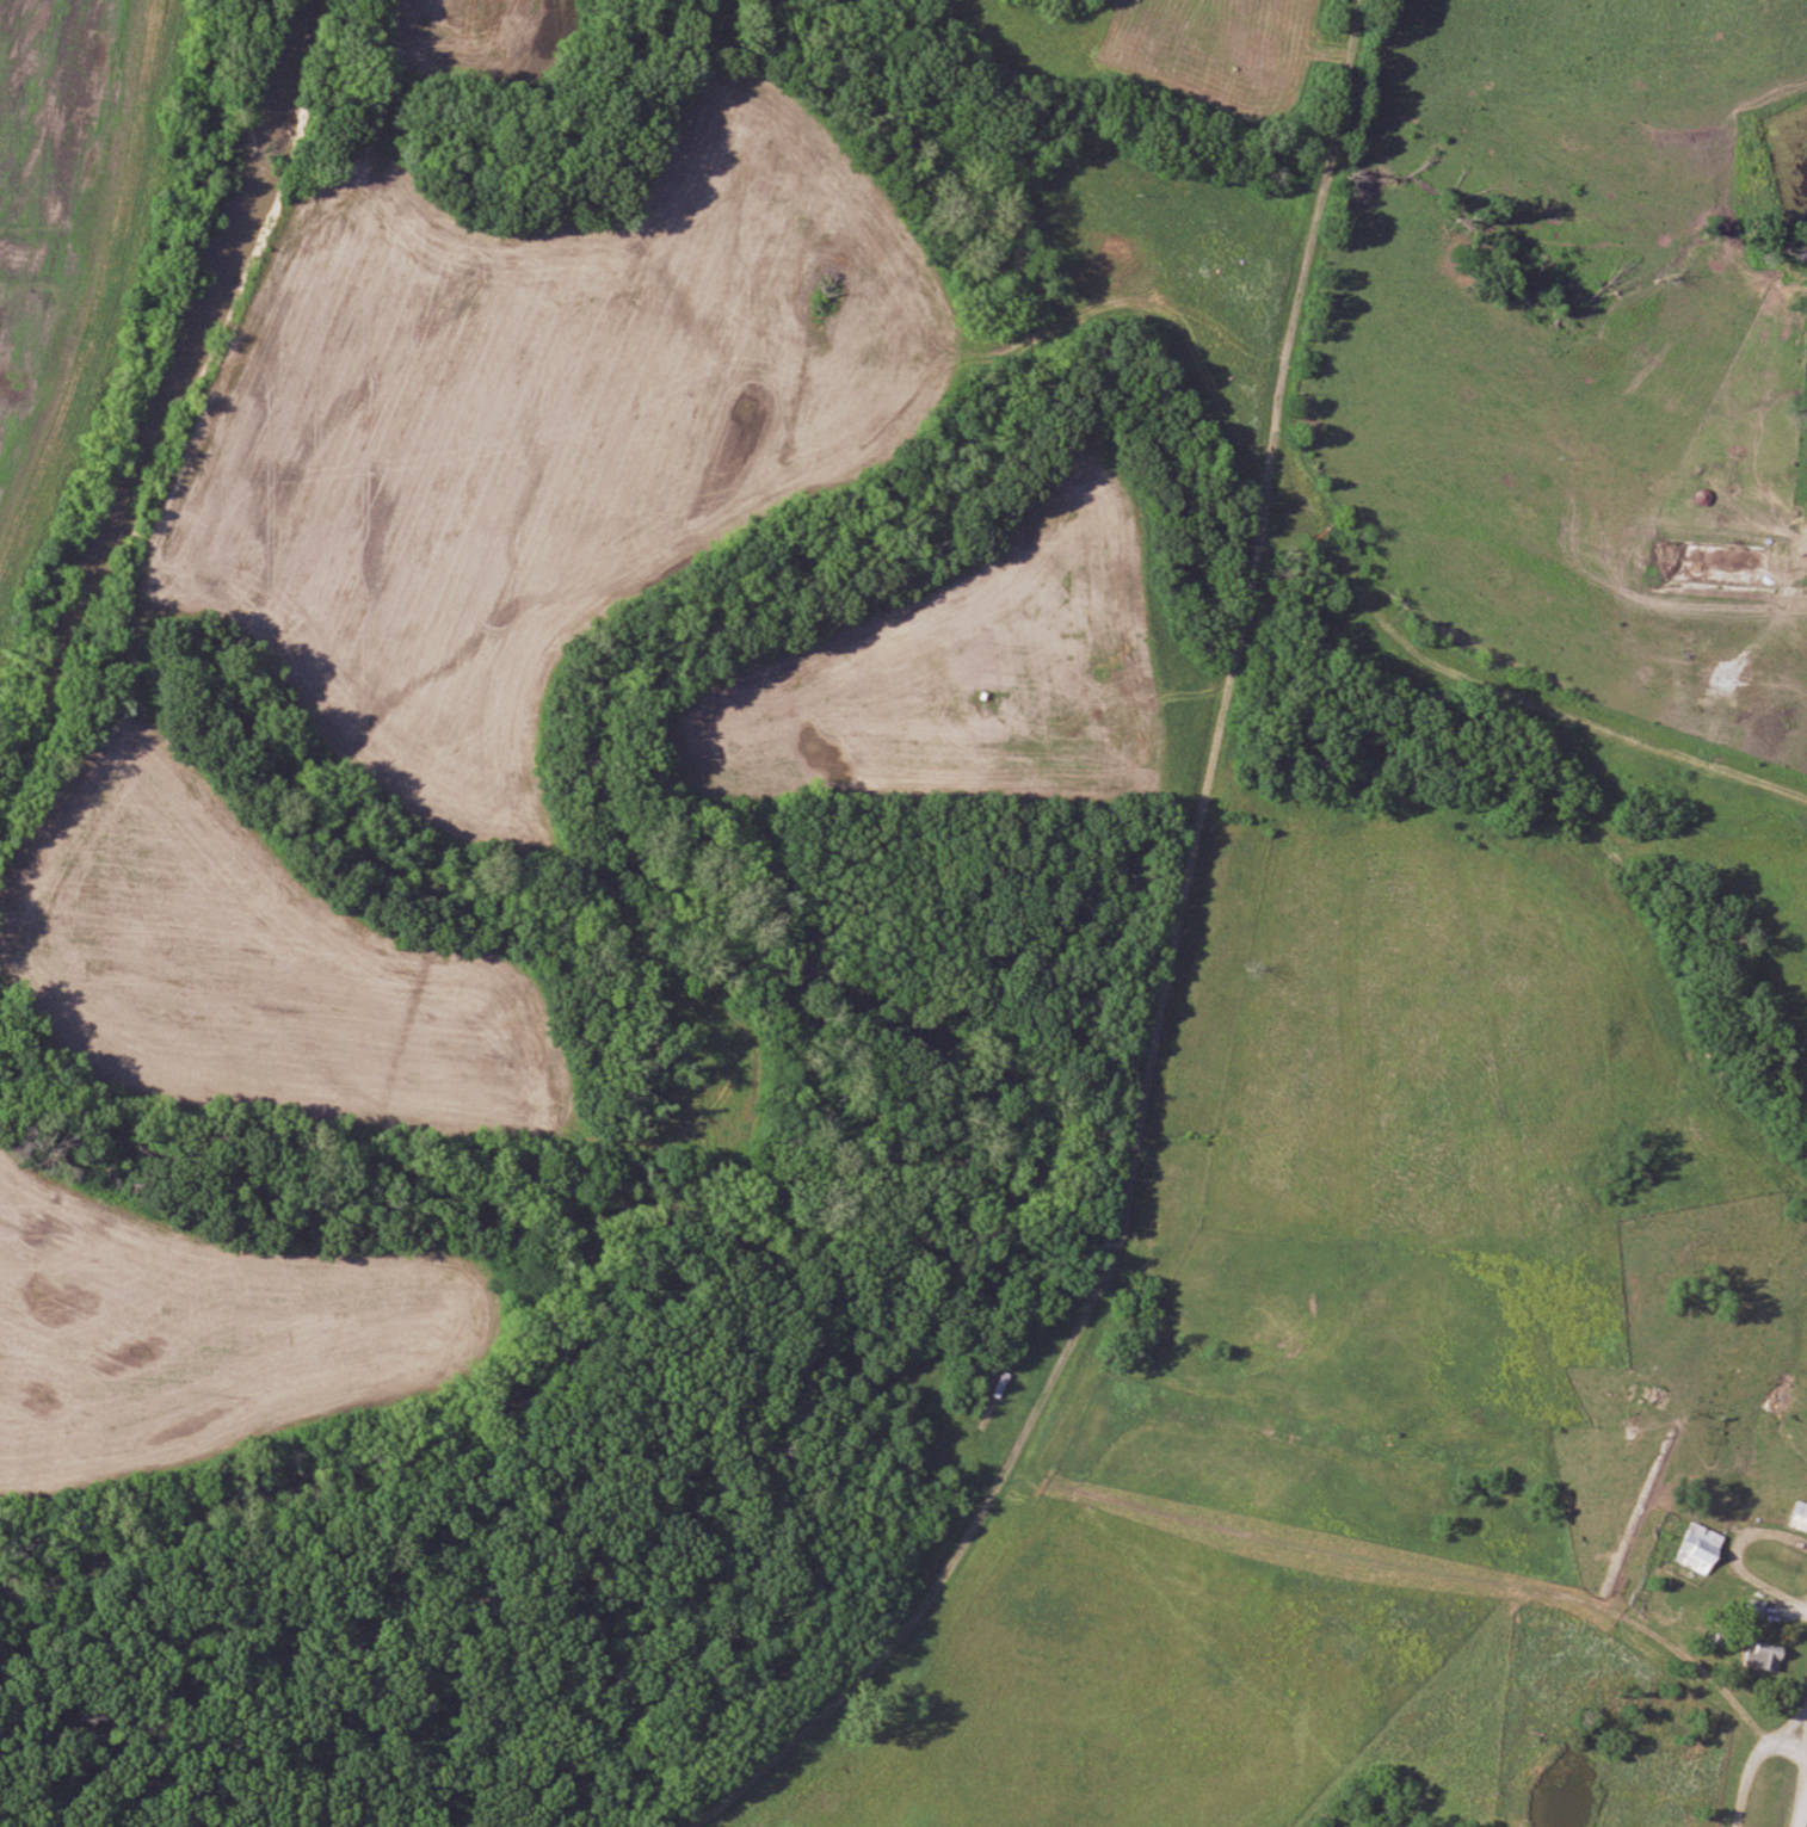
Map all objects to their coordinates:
river: (162, 393)
road: (1492, 686)
building: (986, 1381)
building: (1646, 1396)
building: (1800, 1520)
building: (1701, 1549)
road: (1733, 1554)
building: (1753, 1609)
building: (1764, 1655)
road: (1803, 1711)
road: (1747, 1758)
road: (1800, 1806)

